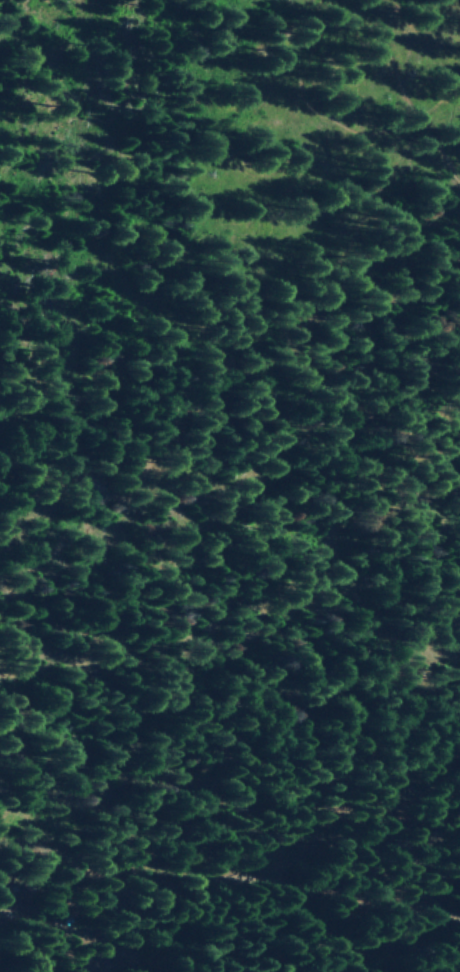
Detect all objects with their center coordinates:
road: (413, 109)
road: (227, 872)

